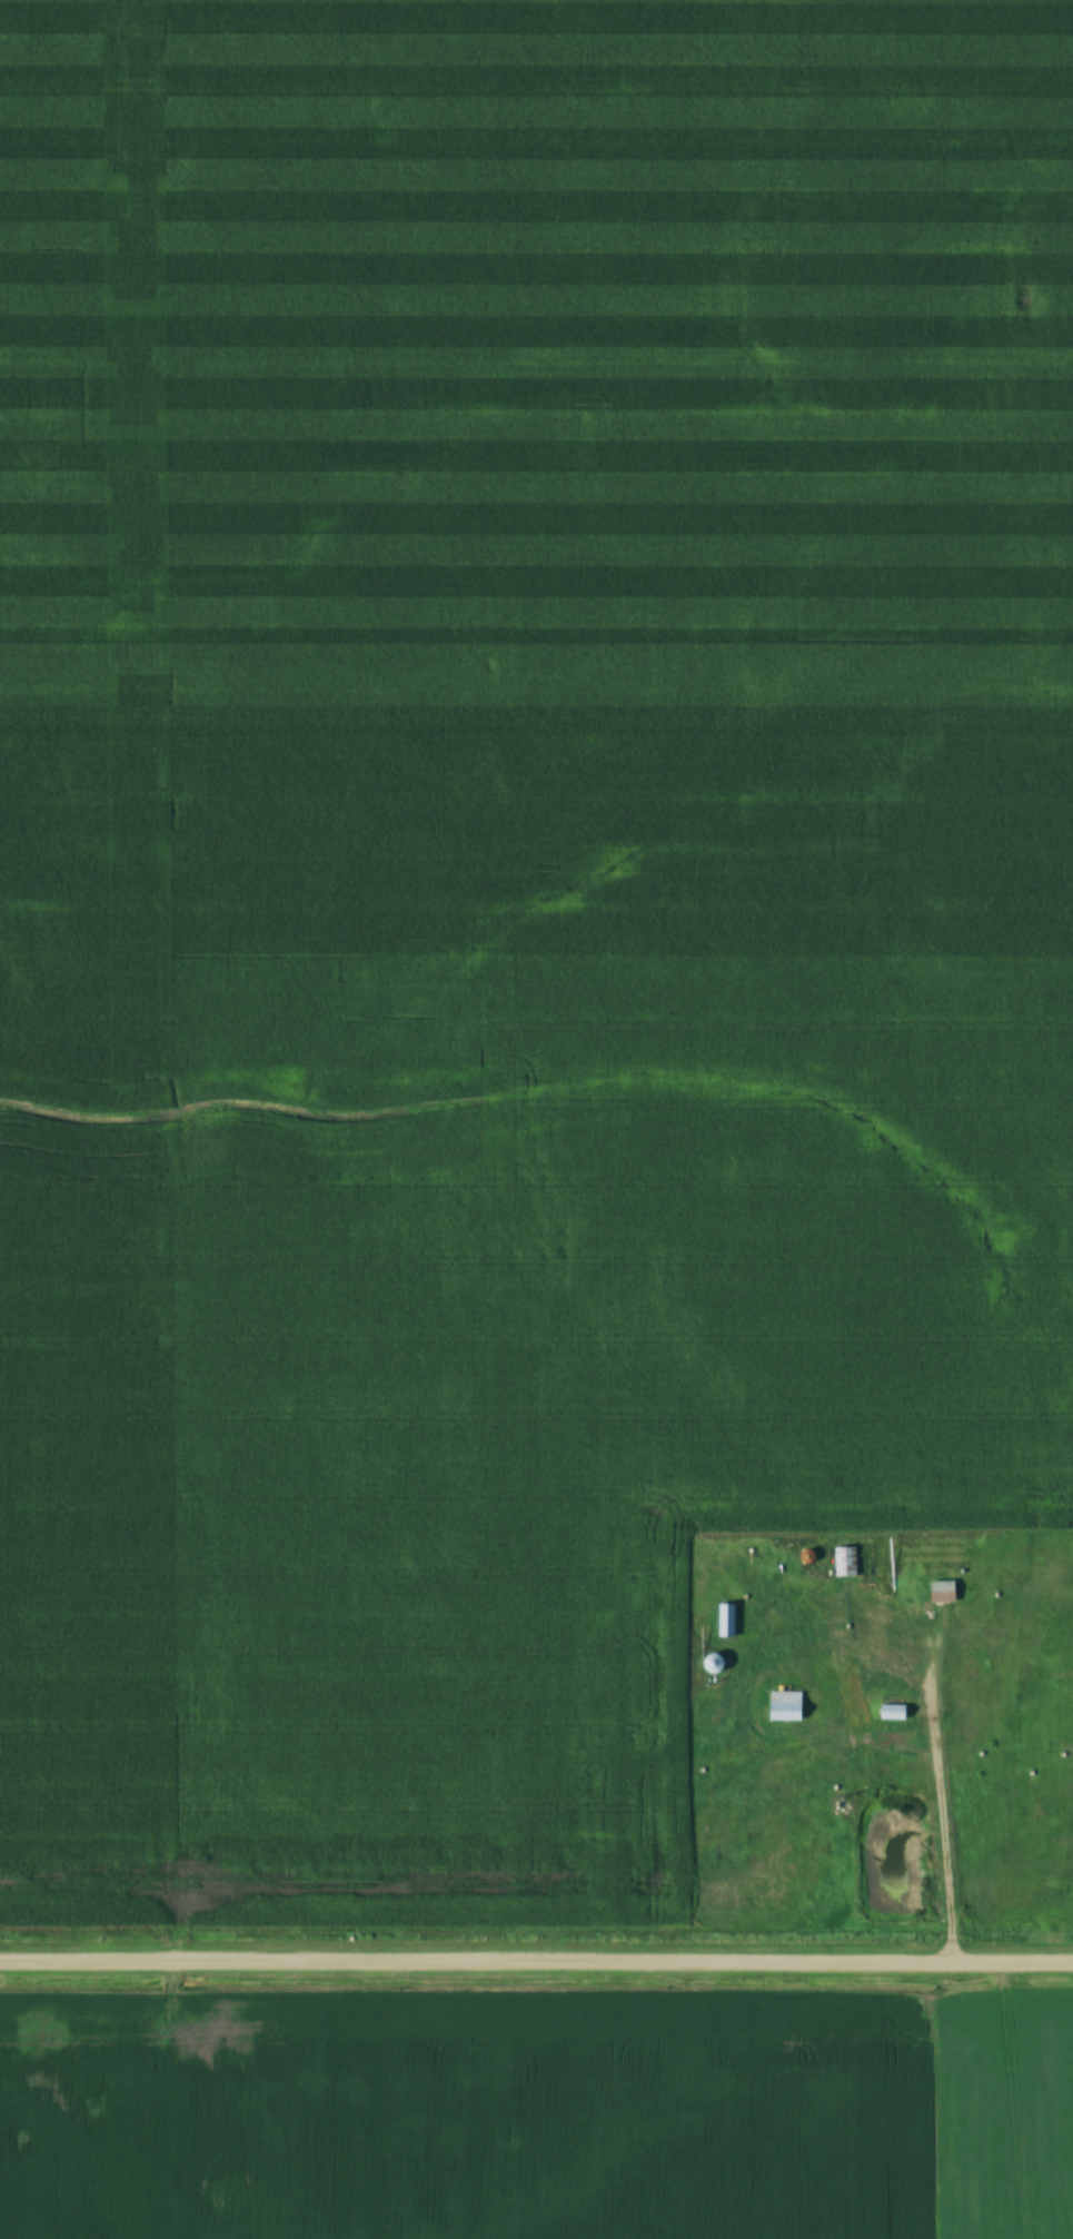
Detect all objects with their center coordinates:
building: (845, 1563)
building: (942, 1593)
building: (726, 1622)
building: (713, 1664)
building: (785, 1706)
building: (892, 1713)
road: (943, 1790)
road: (536, 1964)

